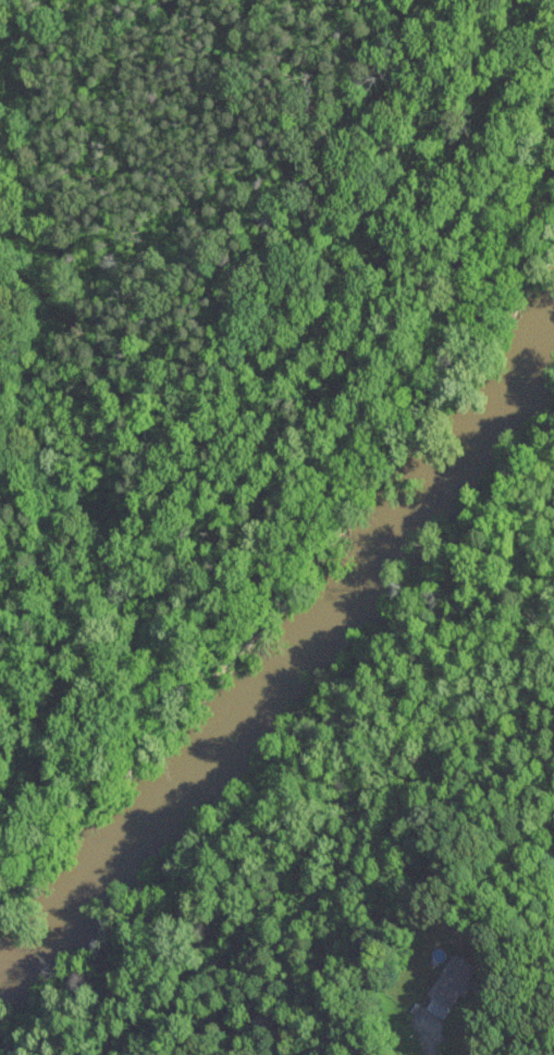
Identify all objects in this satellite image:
river: (300, 669)
road: (483, 1037)

